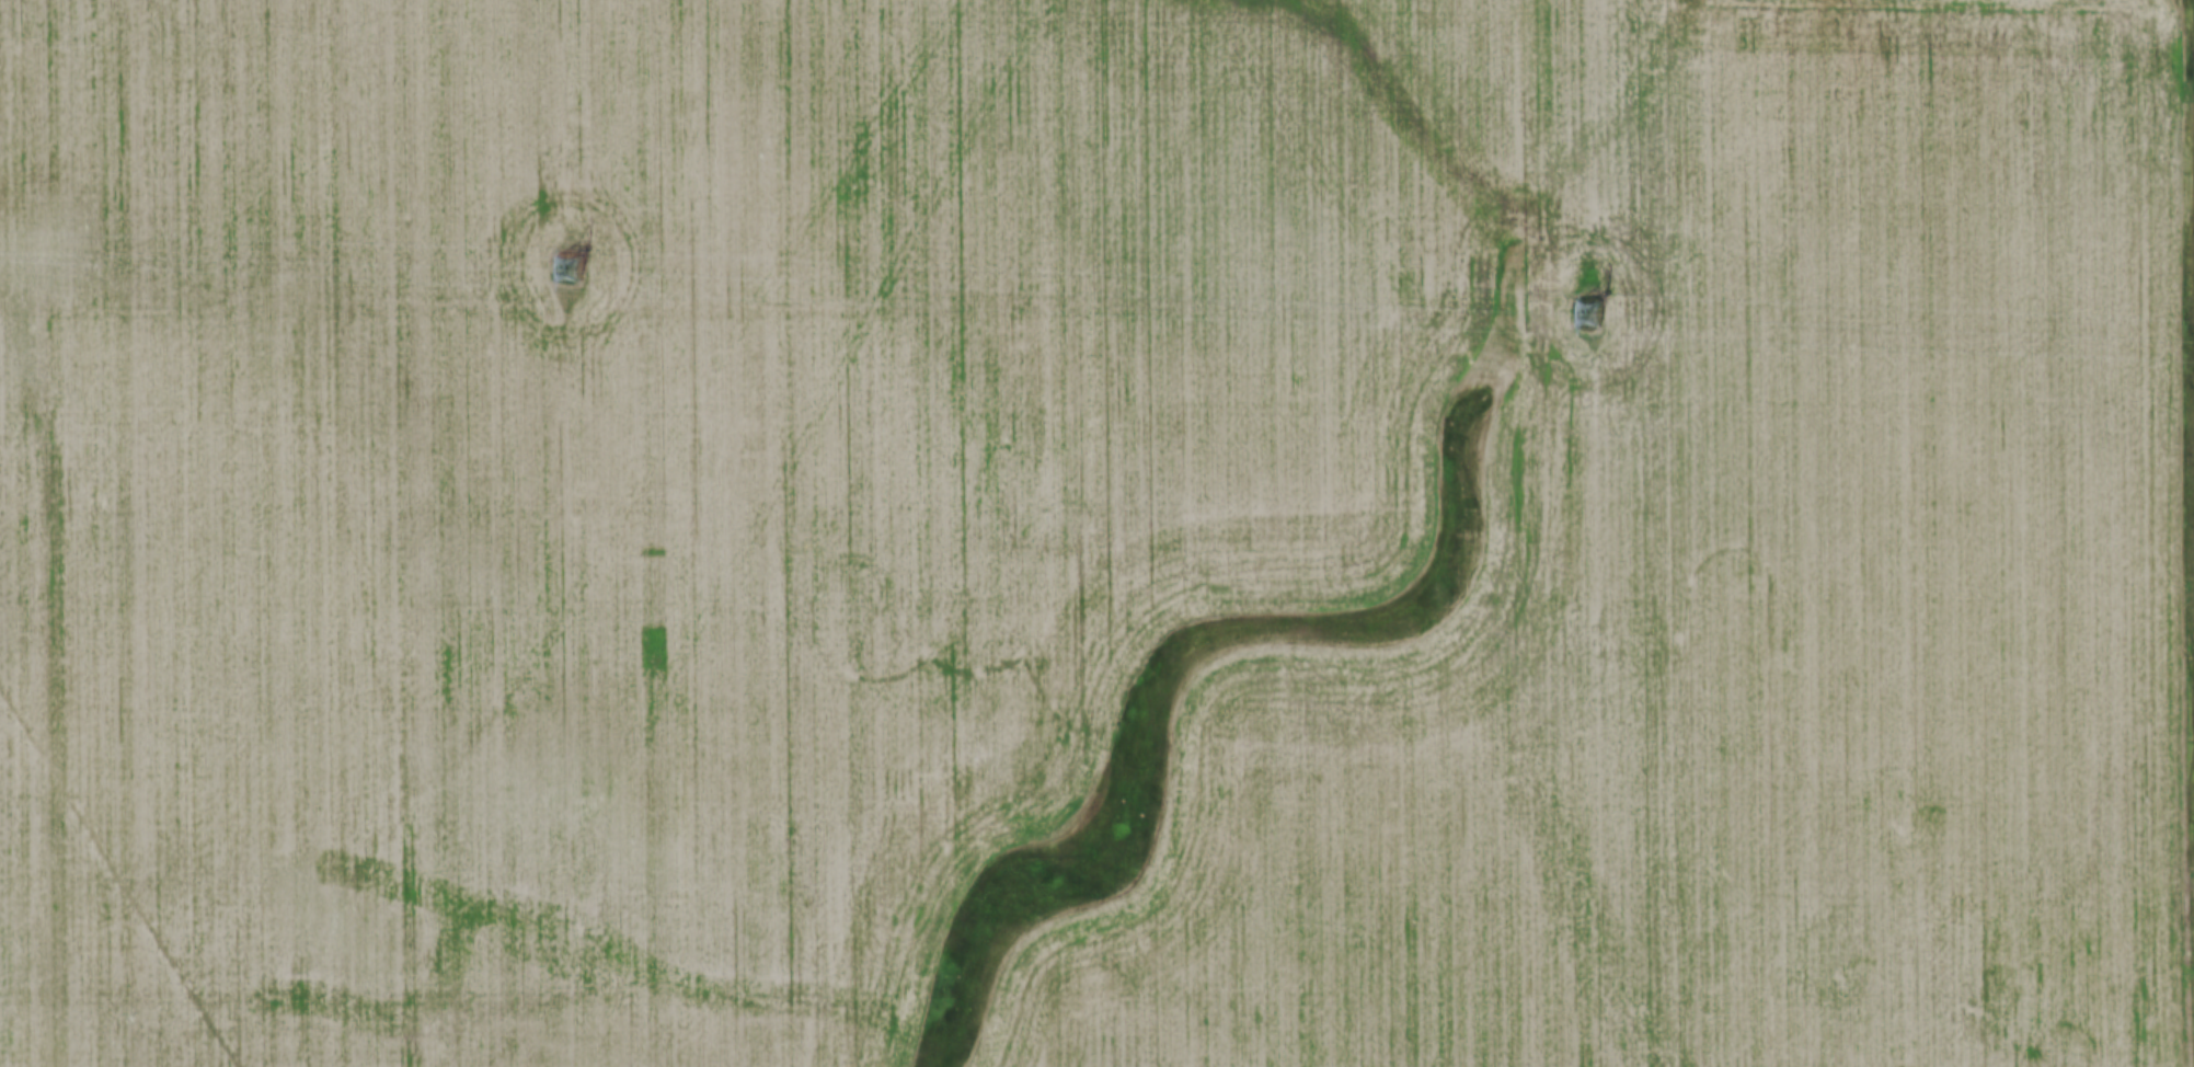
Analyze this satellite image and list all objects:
power tower: (584, 267)
power tower: (1638, 271)

